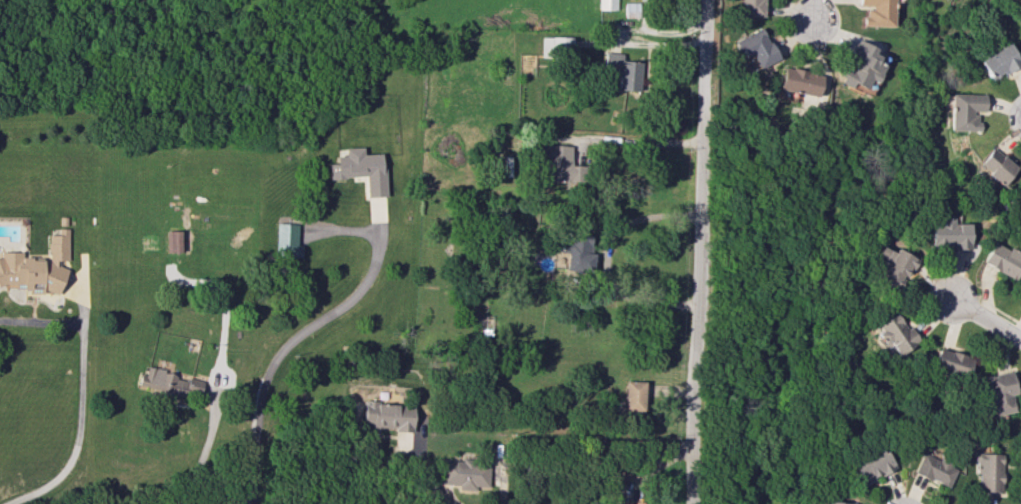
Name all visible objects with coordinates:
building: (606, 4)
building: (750, 7)
building: (630, 9)
road: (814, 10)
building: (875, 12)
building: (556, 43)
building: (756, 47)
building: (998, 61)
building: (860, 65)
building: (621, 70)
building: (799, 81)
building: (963, 111)
road: (643, 141)
building: (557, 164)
building: (996, 166)
building: (360, 169)
building: (948, 233)
building: (286, 240)
building: (173, 241)
building: (576, 251)
road: (697, 252)
road: (603, 258)
building: (1002, 259)
building: (36, 266)
building: (891, 266)
road: (986, 319)
building: (892, 332)
road: (267, 351)
building: (949, 362)
building: (169, 383)
building: (999, 392)
building: (633, 396)
building: (388, 415)
road: (80, 421)
road: (202, 455)
building: (868, 465)
building: (932, 469)
building: (987, 471)
road: (420, 472)
building: (464, 473)
road: (362, 476)
road: (501, 488)
building: (835, 502)

